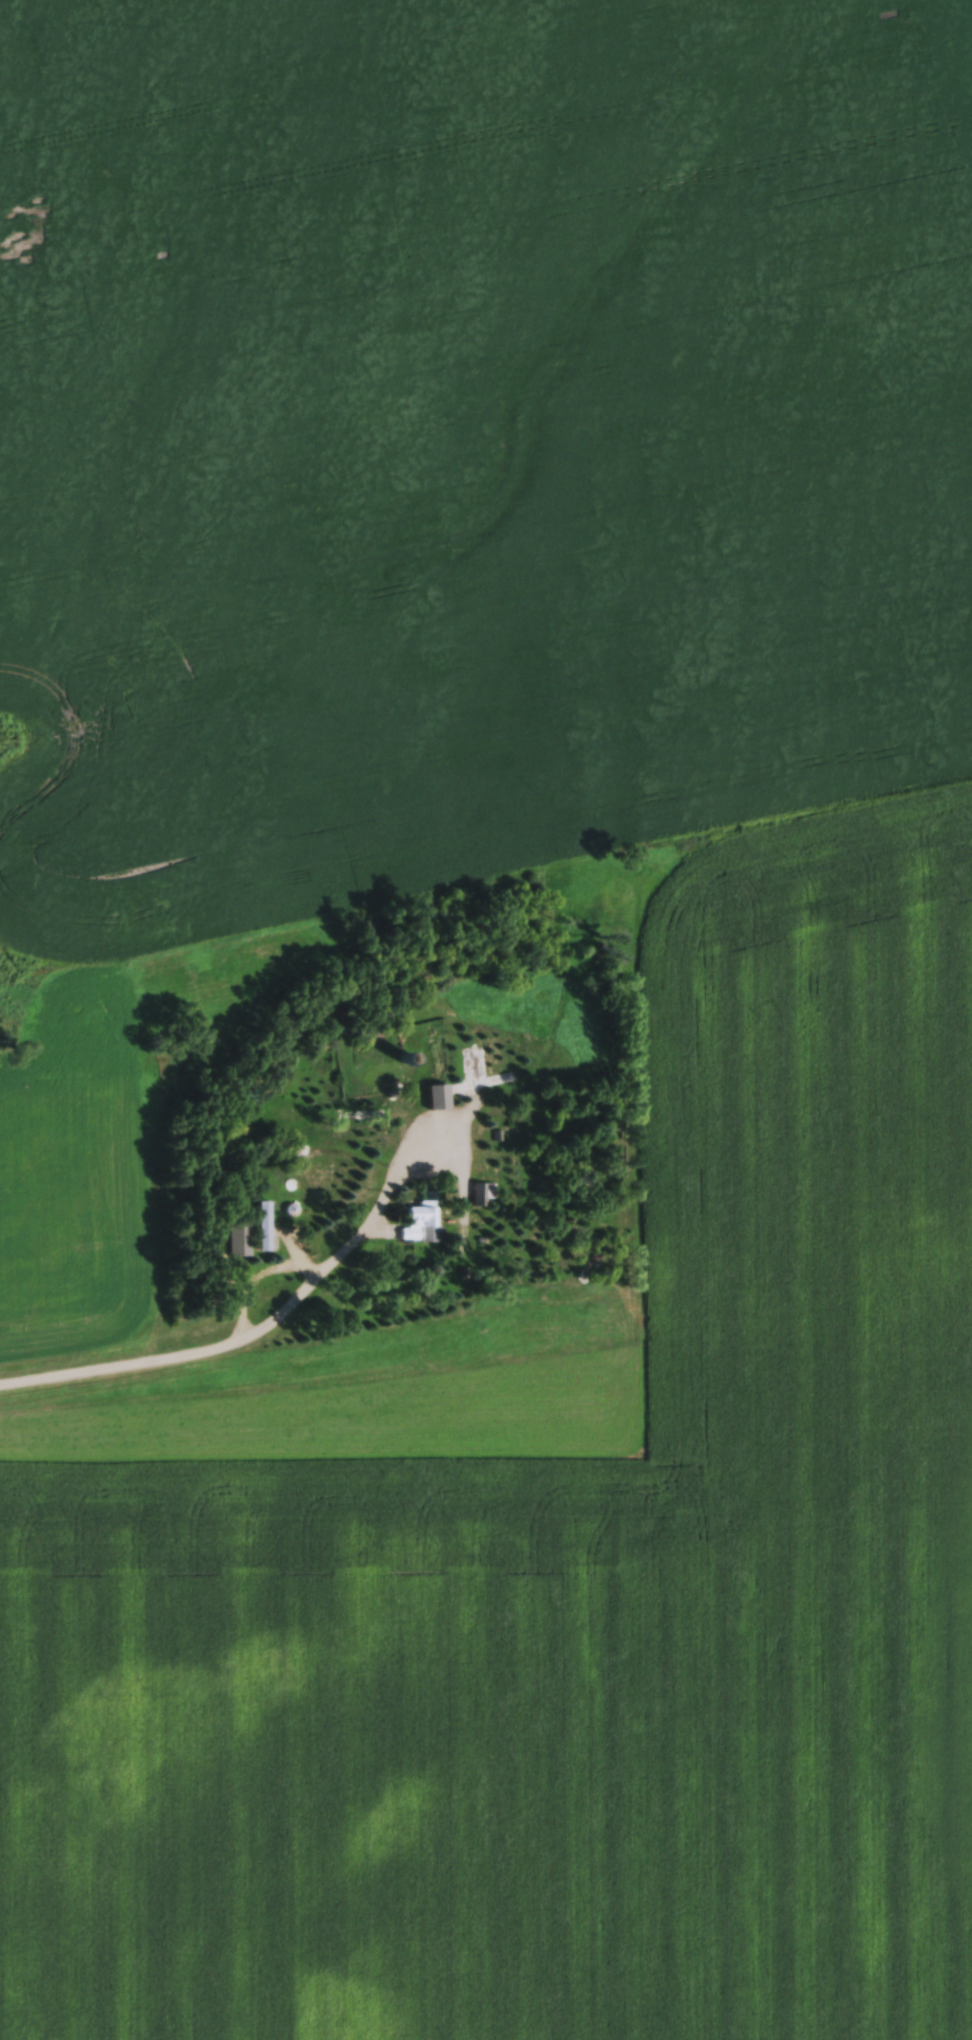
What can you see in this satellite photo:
building: (481, 1196)
building: (423, 1226)
building: (266, 1230)
road: (291, 1298)

